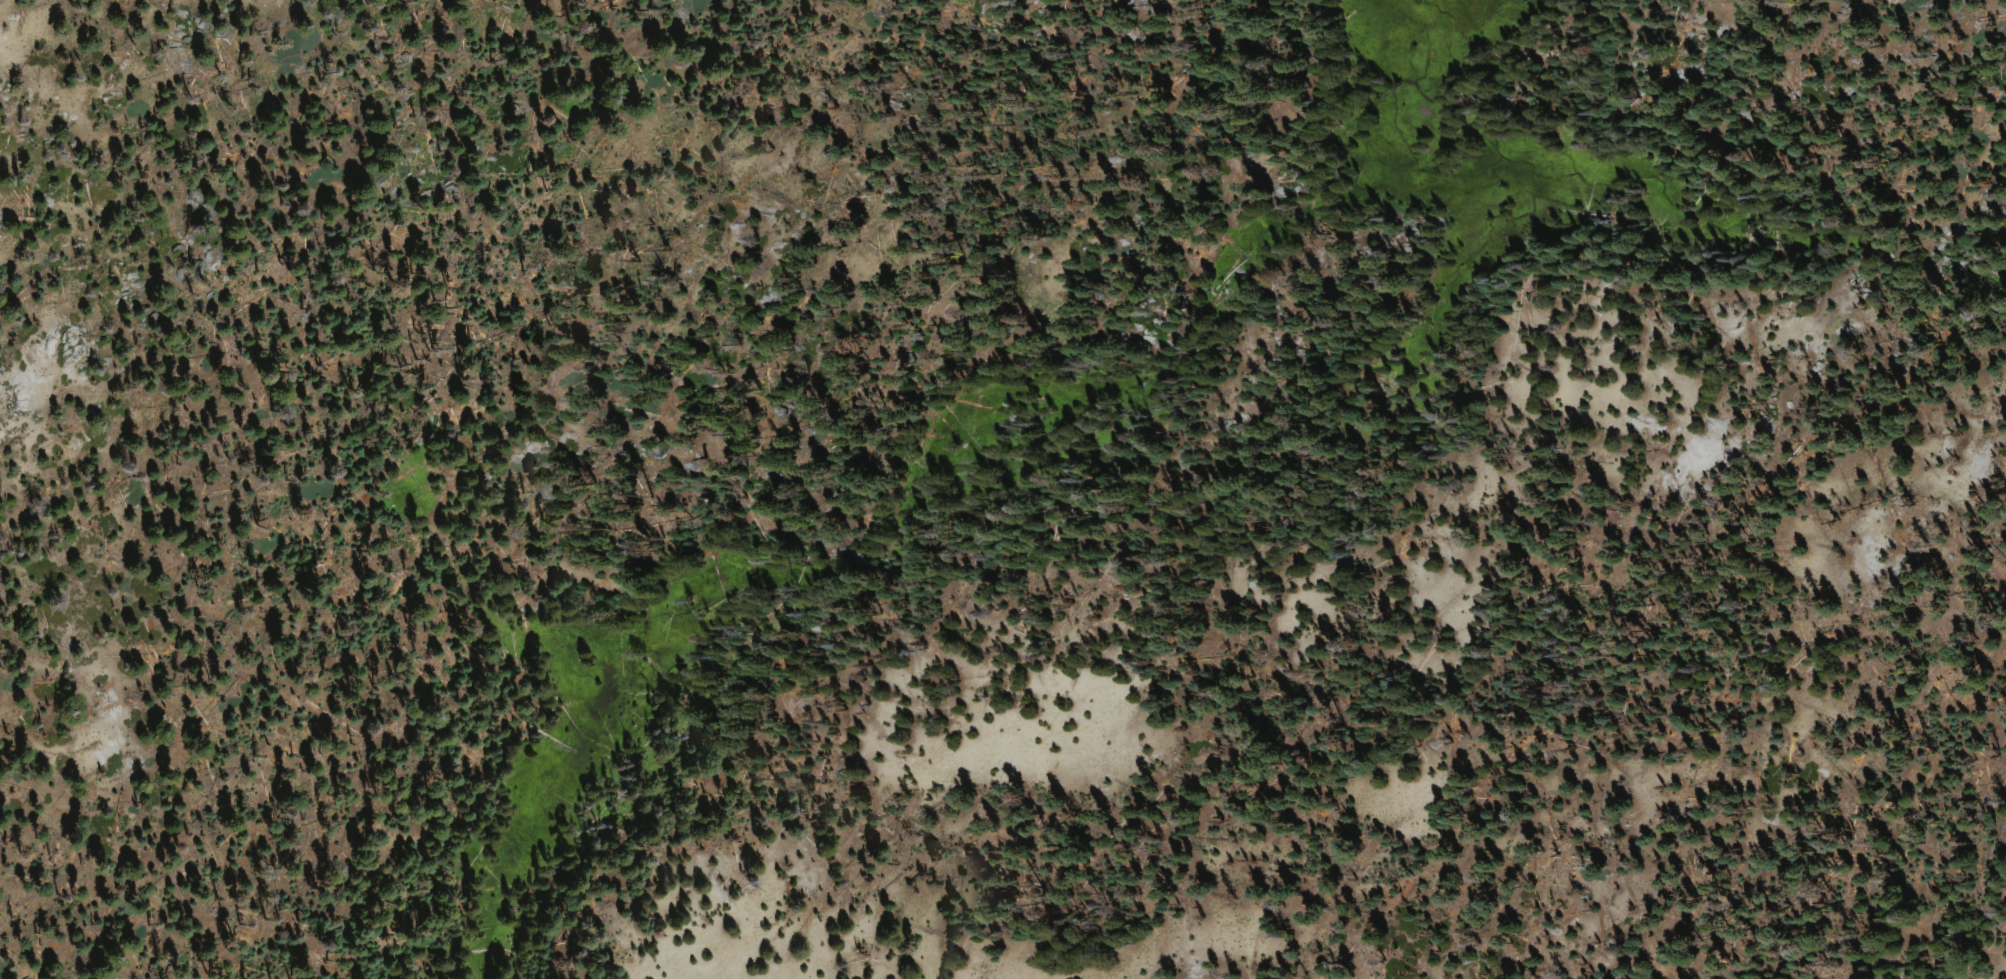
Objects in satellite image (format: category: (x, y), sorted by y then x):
road: (84, 203)
road: (75, 560)

